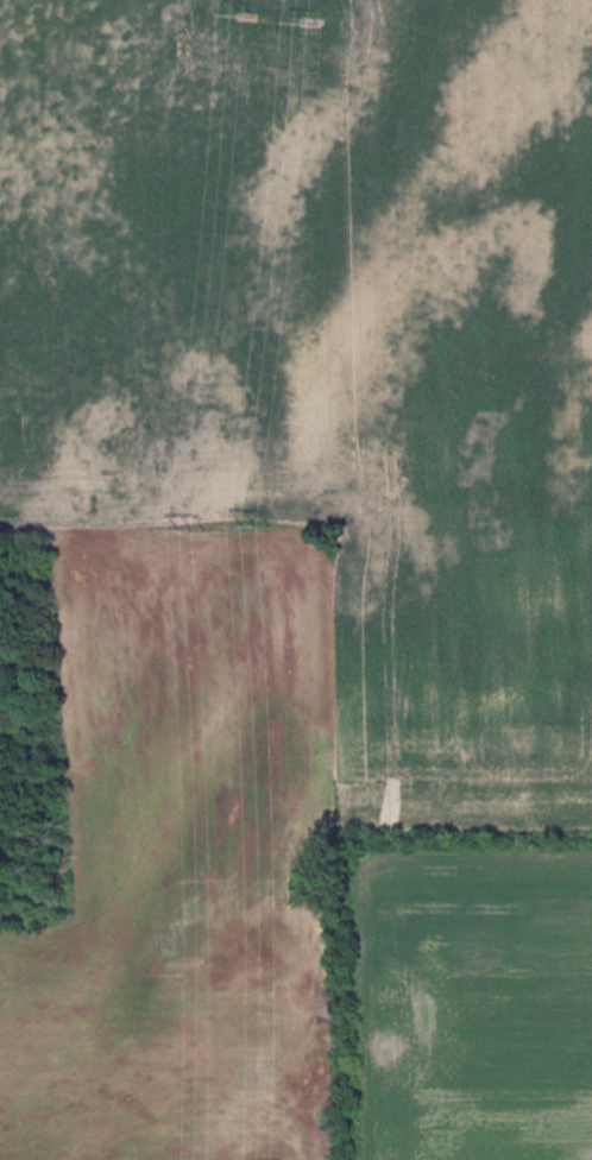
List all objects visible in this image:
power tower: (246, 12)
power tower: (306, 15)
power tower: (252, 519)
power tower: (190, 522)

